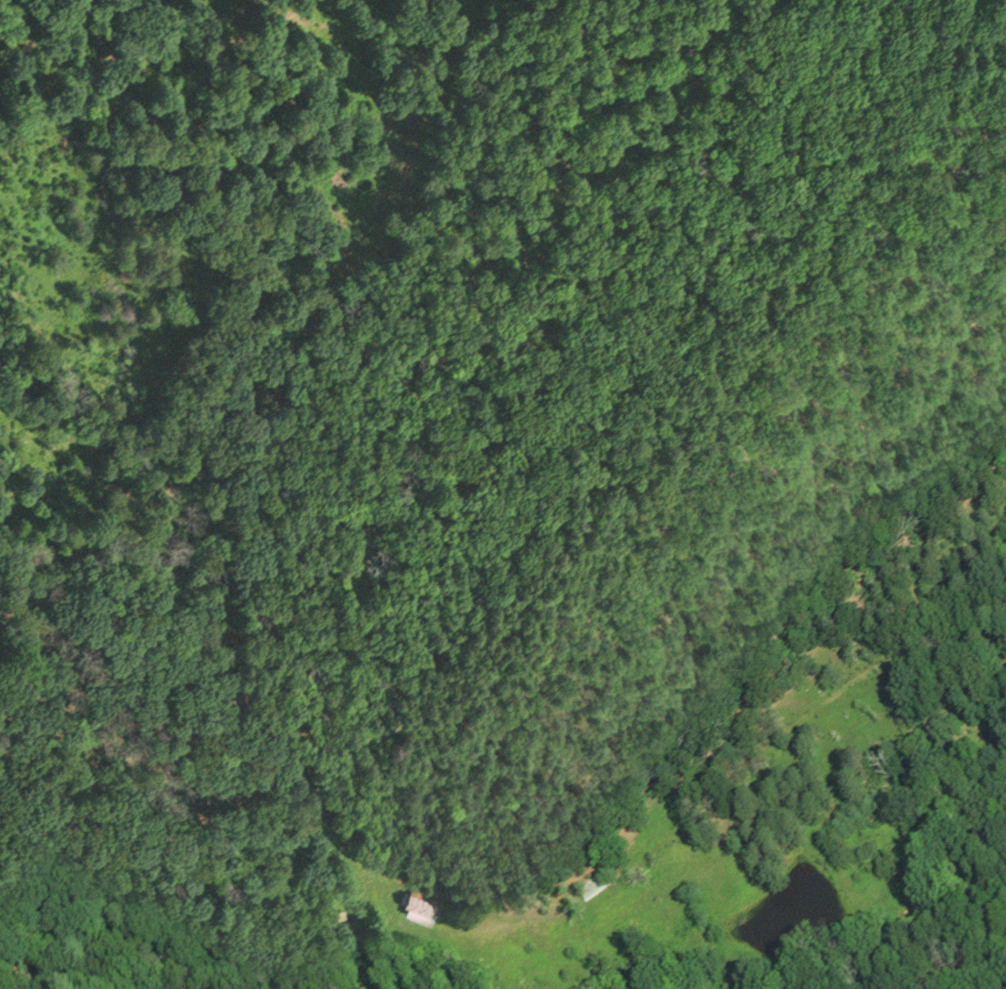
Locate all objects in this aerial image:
building: (419, 909)

